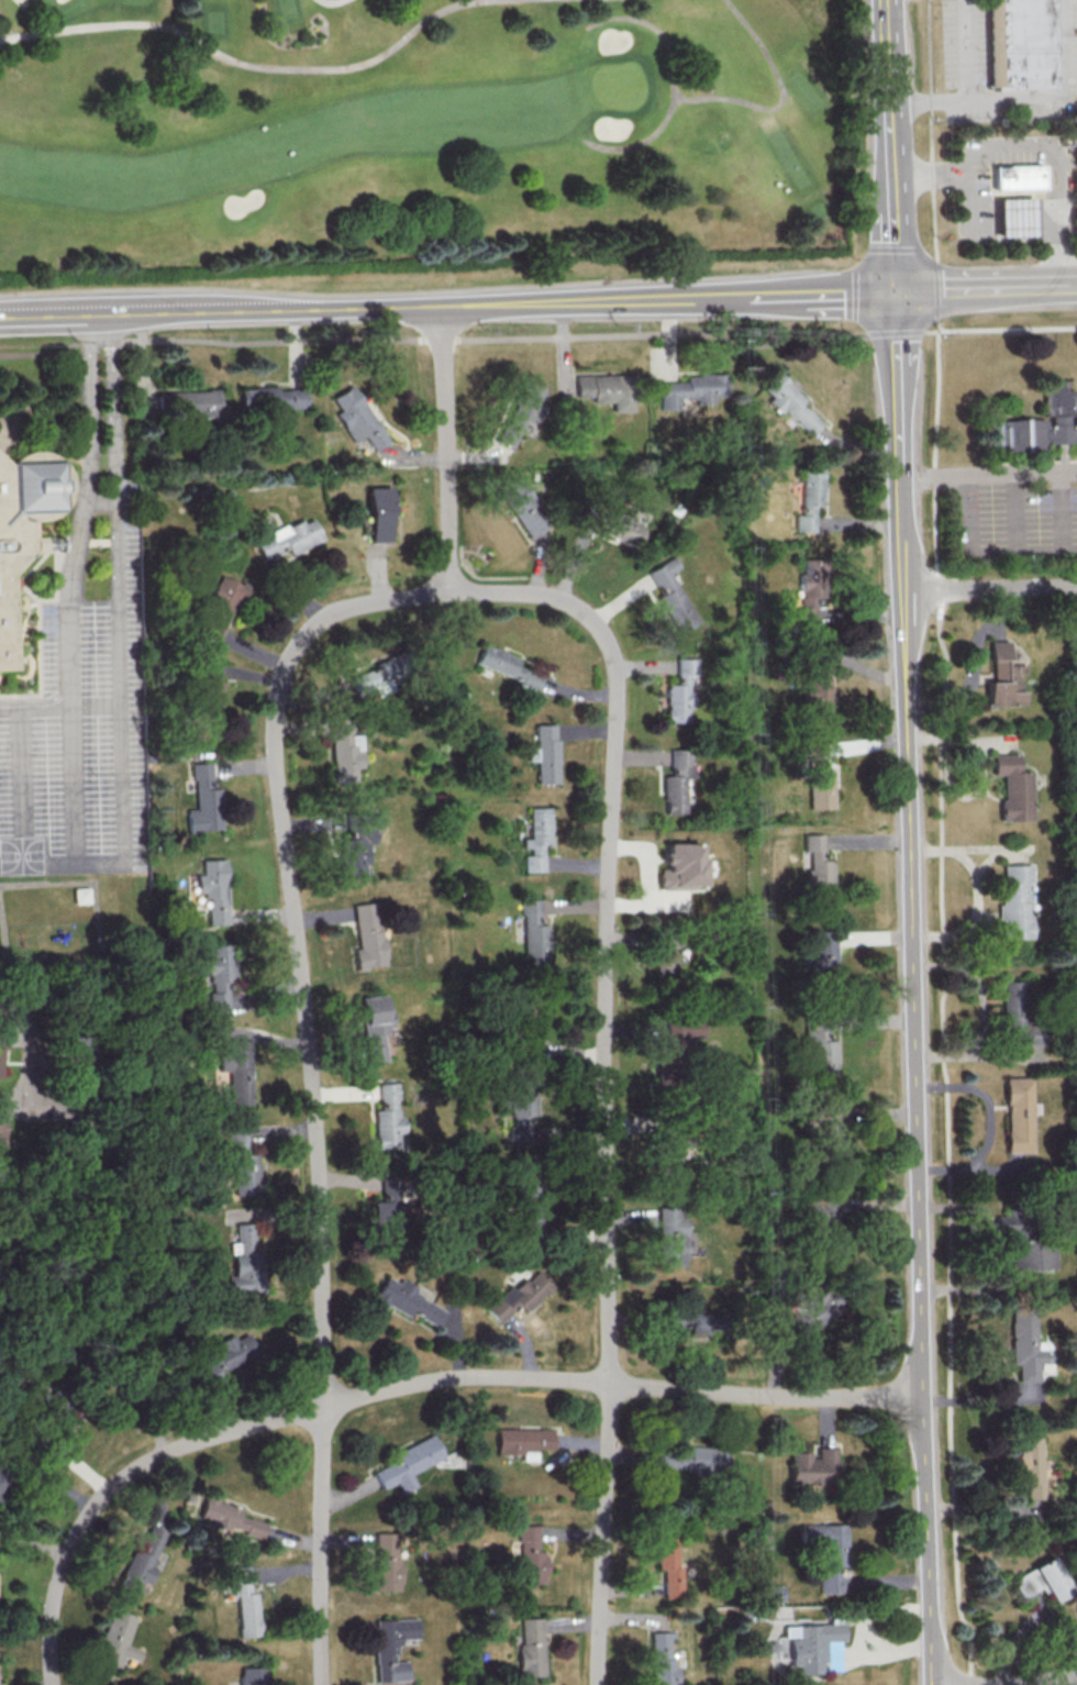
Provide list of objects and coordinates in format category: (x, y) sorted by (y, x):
road: (331, 1)
building: (1025, 45)
road: (965, 49)
road: (889, 51)
road: (243, 62)
road: (1064, 96)
road: (717, 97)
road: (930, 100)
road: (929, 124)
park: (413, 130)
road: (640, 141)
road: (1032, 151)
building: (1017, 176)
road: (895, 196)
road: (971, 208)
building: (1014, 214)
road: (1046, 218)
road: (1015, 219)
road: (986, 288)
traffic signals: (897, 291)
road: (791, 295)
road: (343, 309)
road: (936, 323)
road: (1007, 330)
building: (608, 389)
building: (692, 389)
road: (899, 397)
building: (271, 398)
building: (188, 402)
building: (791, 402)
building: (521, 410)
building: (357, 418)
building: (1039, 423)
road: (446, 450)
road: (989, 473)
building: (810, 497)
building: (524, 510)
building: (380, 513)
building: (615, 523)
building: (24, 524)
building: (289, 537)
road: (990, 588)
building: (810, 590)
road: (115, 592)
building: (673, 595)
road: (70, 608)
building: (220, 608)
building: (506, 665)
road: (969, 666)
building: (378, 677)
building: (1003, 677)
building: (815, 685)
building: (682, 690)
building: (208, 696)
road: (59, 706)
building: (344, 751)
building: (545, 753)
building: (819, 777)
building: (679, 783)
road: (22, 786)
building: (1012, 787)
building: (204, 800)
building: (536, 839)
building: (357, 843)
road: (38, 864)
building: (681, 865)
building: (818, 867)
building: (214, 889)
road: (975, 891)
building: (81, 895)
building: (1014, 900)
building: (533, 931)
building: (367, 935)
building: (823, 951)
building: (664, 958)
building: (220, 977)
building: (1017, 1016)
building: (375, 1027)
building: (525, 1027)
building: (682, 1031)
road: (32, 1040)
building: (3, 1044)
building: (821, 1053)
building: (237, 1069)
road: (604, 1075)
road: (312, 1078)
road: (915, 1094)
building: (521, 1112)
building: (1019, 1113)
building: (388, 1117)
road: (988, 1123)
building: (826, 1127)
building: (2, 1138)
building: (667, 1159)
building: (244, 1161)
building: (528, 1211)
building: (387, 1213)
building: (671, 1235)
road: (978, 1241)
building: (1024, 1244)
building: (245, 1259)
building: (521, 1294)
building: (406, 1300)
building: (810, 1316)
building: (697, 1323)
building: (1025, 1343)
building: (221, 1359)
road: (402, 1386)
road: (982, 1394)
building: (524, 1441)
building: (695, 1459)
building: (409, 1463)
building: (811, 1466)
building: (1028, 1470)
building: (2, 1479)
building: (231, 1517)
building: (825, 1551)
building: (531, 1556)
building: (142, 1560)
building: (387, 1561)
building: (668, 1562)
building: (1041, 1578)
building: (773, 1593)
building: (244, 1601)
building: (116, 1640)
building: (806, 1644)
building: (391, 1647)
building: (531, 1647)
building: (660, 1659)
building: (252, 1675)
road: (1037, 1681)

